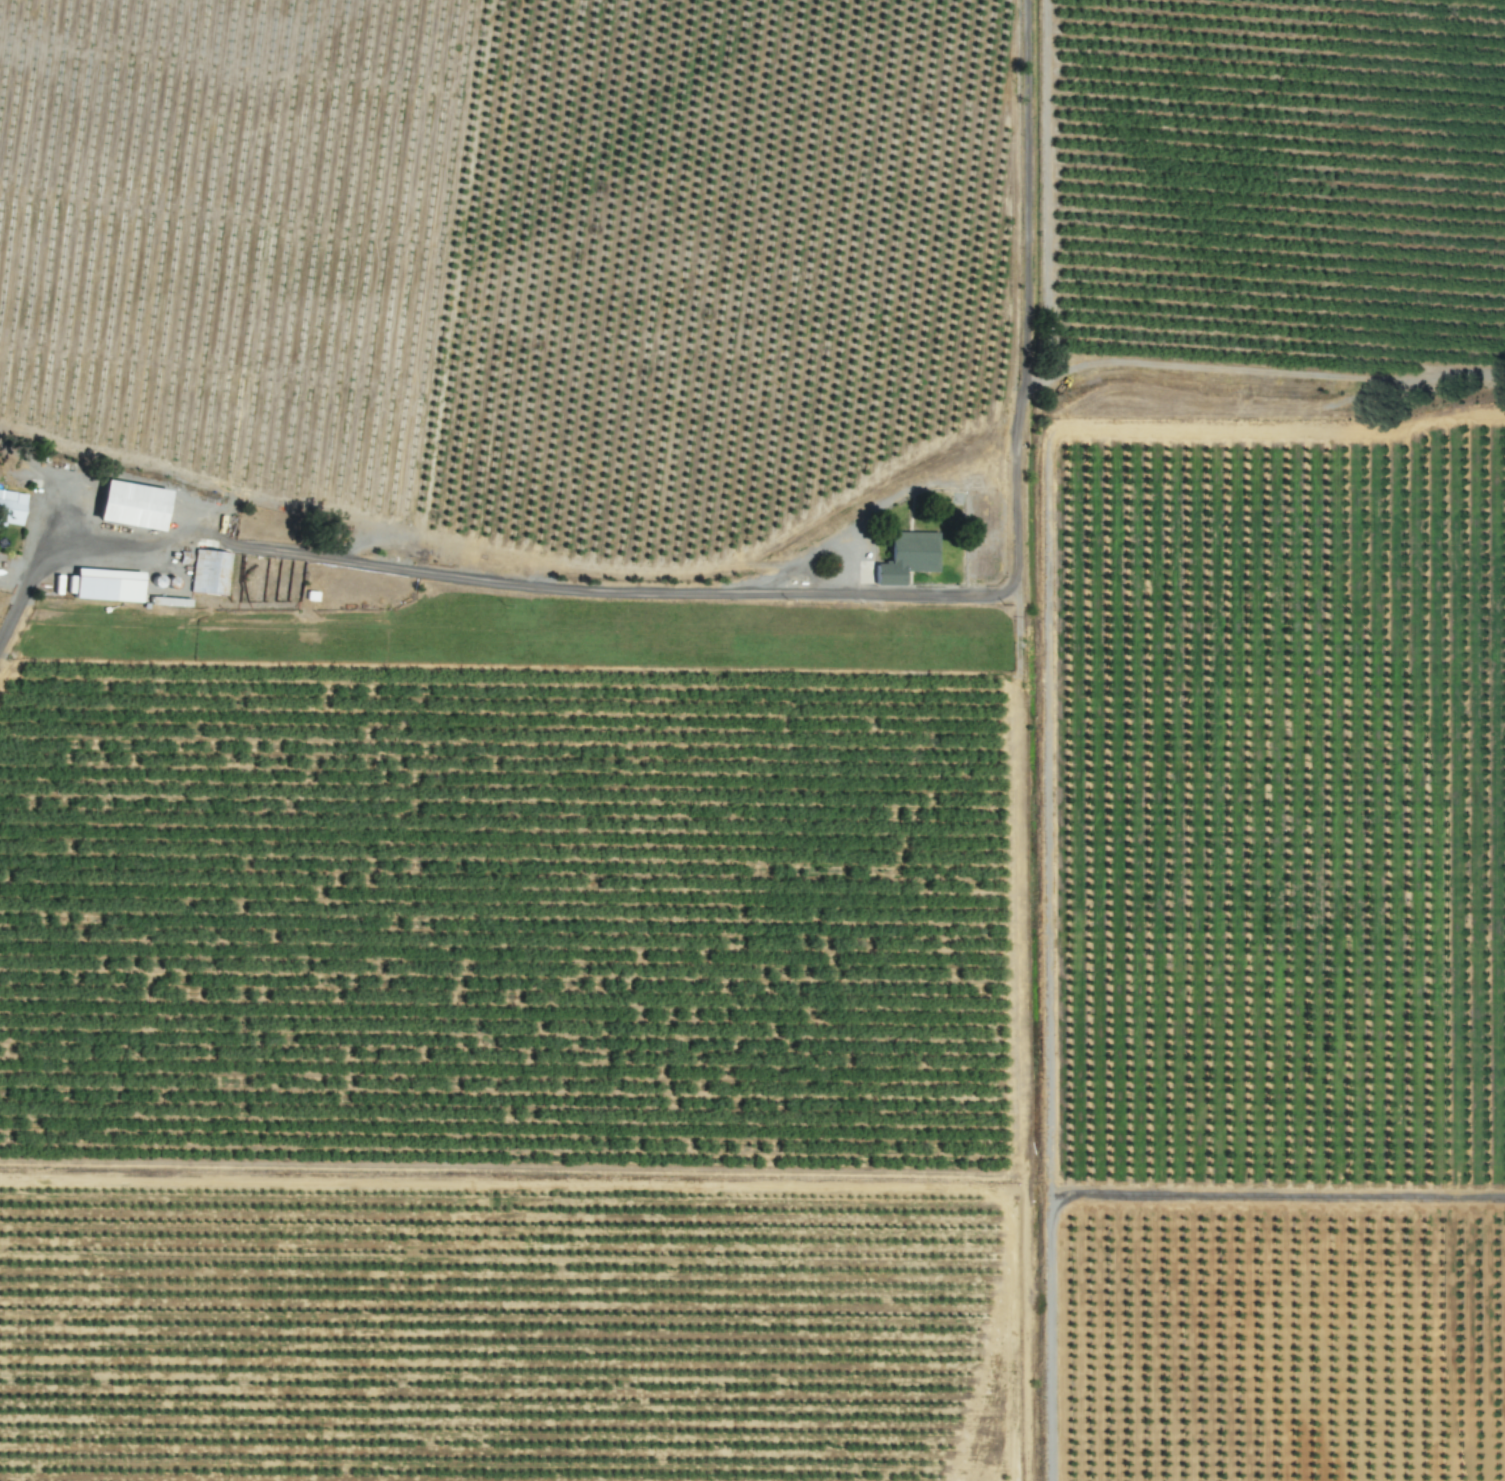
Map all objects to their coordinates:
building: (120, 507)
building: (8, 508)
building: (902, 557)
building: (206, 574)
building: (98, 586)
road: (10, 618)
road: (1276, 1196)

